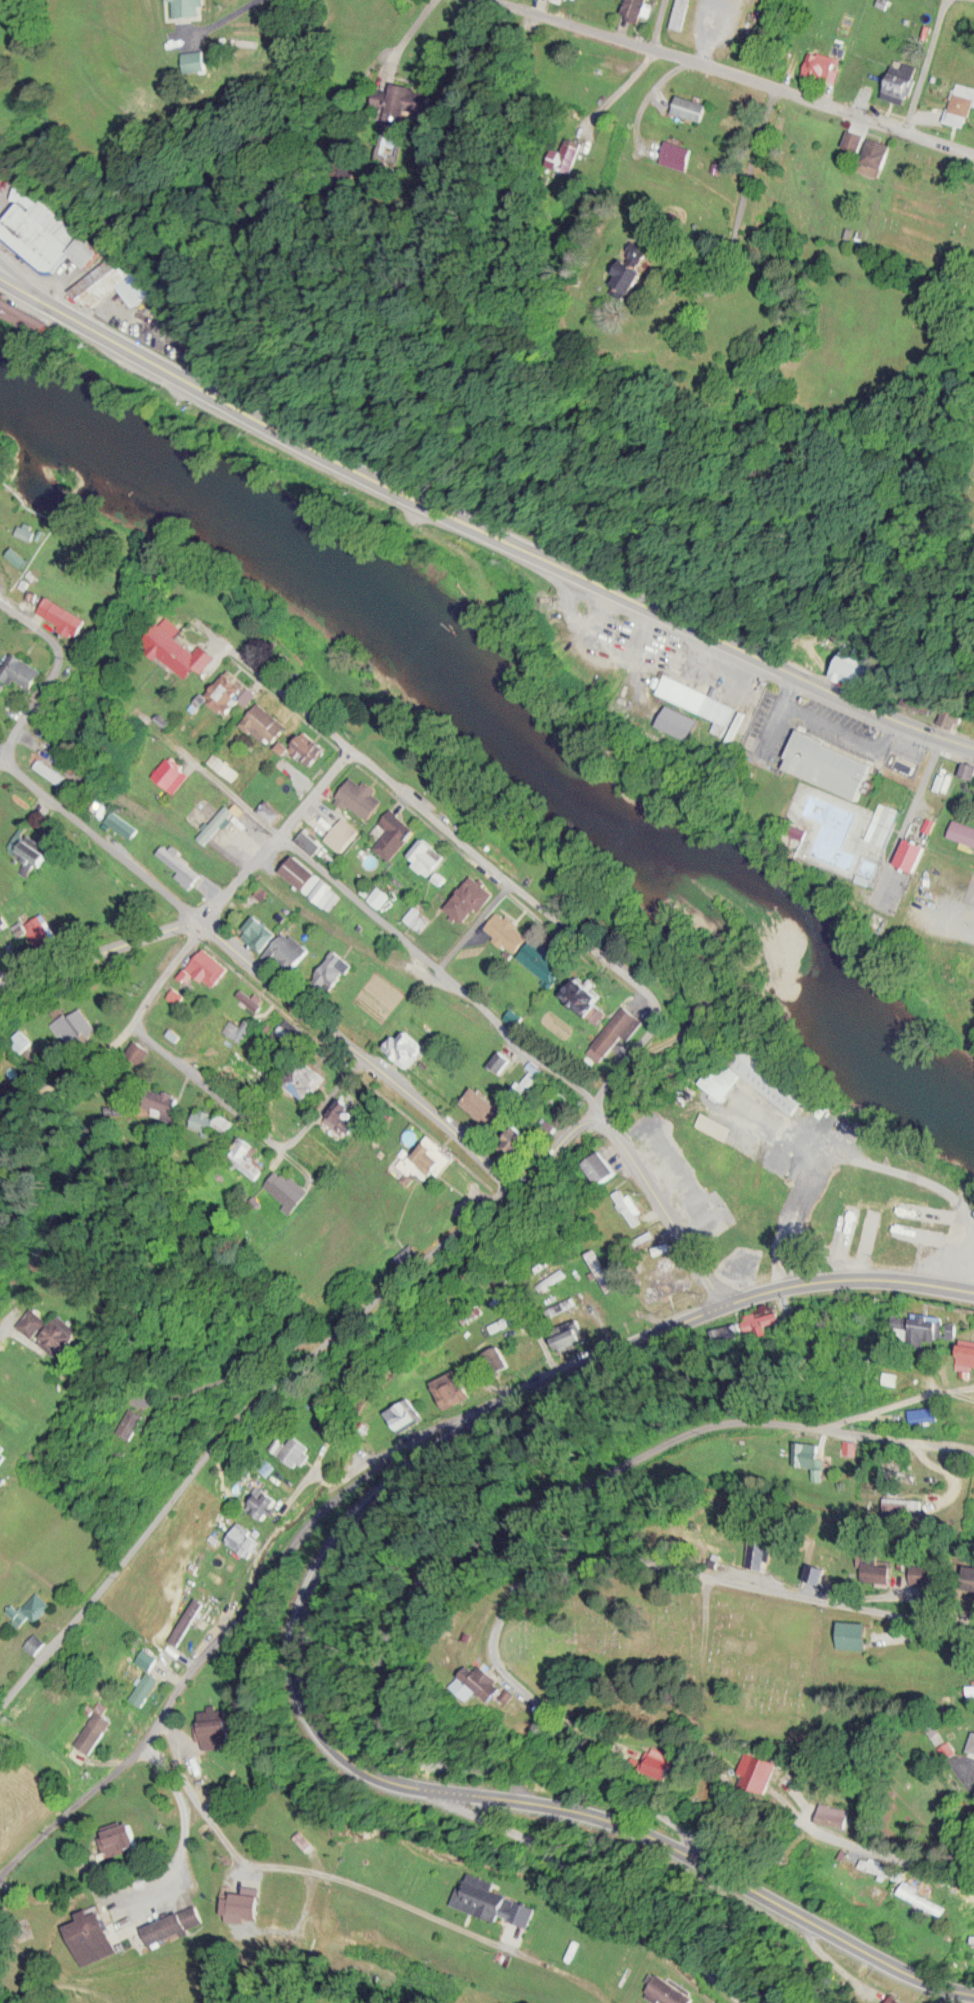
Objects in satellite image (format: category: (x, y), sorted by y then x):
building: (188, 7)
building: (635, 9)
building: (683, 14)
road: (659, 21)
building: (199, 60)
building: (827, 60)
road: (924, 66)
road: (740, 70)
building: (901, 76)
building: (408, 101)
building: (964, 104)
building: (694, 106)
building: (852, 147)
building: (575, 153)
building: (682, 154)
building: (876, 160)
park: (930, 203)
road: (747, 220)
building: (47, 236)
building: (649, 266)
road: (71, 311)
building: (27, 530)
road: (553, 557)
building: (64, 613)
building: (182, 651)
road: (55, 665)
building: (21, 668)
building: (233, 690)
building: (922, 699)
building: (703, 702)
building: (955, 716)
building: (265, 722)
road: (833, 725)
river: (503, 727)
road: (773, 727)
building: (306, 746)
building: (834, 765)
building: (49, 769)
building: (968, 770)
building: (173, 772)
road: (317, 795)
building: (361, 797)
building: (271, 810)
road: (912, 817)
building: (122, 823)
building: (883, 823)
building: (962, 830)
road: (440, 831)
building: (395, 832)
building: (310, 841)
building: (31, 853)
building: (916, 853)
building: (427, 855)
building: (181, 862)
road: (243, 880)
building: (313, 881)
parking lot: (948, 893)
building: (471, 897)
road: (945, 924)
building: (509, 929)
building: (259, 931)
building: (41, 932)
building: (288, 951)
building: (542, 957)
road: (99, 964)
building: (209, 965)
building: (333, 967)
road: (251, 969)
building: (972, 974)
building: (588, 994)
road: (469, 995)
building: (617, 1031)
building: (71, 1033)
building: (406, 1046)
building: (137, 1050)
road: (102, 1055)
building: (247, 1067)
building: (531, 1073)
road: (180, 1075)
building: (305, 1079)
building: (778, 1086)
building: (163, 1100)
building: (483, 1104)
building: (347, 1116)
building: (213, 1122)
building: (248, 1157)
building: (431, 1158)
building: (605, 1165)
building: (288, 1187)
building: (916, 1207)
road: (683, 1237)
building: (660, 1247)
building: (598, 1264)
road: (847, 1275)
building: (666, 1280)
building: (58, 1329)
building: (568, 1329)
road: (4, 1336)
road: (317, 1345)
building: (969, 1350)
building: (496, 1357)
road: (587, 1361)
building: (449, 1386)
road: (898, 1400)
building: (404, 1413)
building: (135, 1421)
building: (328, 1425)
building: (294, 1448)
building: (4, 1450)
building: (808, 1453)
road: (645, 1463)
building: (262, 1499)
building: (243, 1537)
building: (760, 1552)
building: (879, 1568)
building: (929, 1572)
road: (659, 1574)
building: (202, 1583)
building: (35, 1607)
building: (187, 1628)
building: (854, 1632)
road: (220, 1635)
park: (682, 1654)
building: (151, 1657)
building: (493, 1681)
building: (146, 1687)
building: (214, 1726)
building: (96, 1727)
building: (973, 1749)
road: (451, 1756)
building: (664, 1763)
building: (760, 1771)
road: (964, 1778)
road: (479, 1790)
road: (644, 1799)
building: (836, 1813)
building: (123, 1823)
building: (303, 1839)
road: (902, 1866)
road: (243, 1870)
road: (357, 1884)
road: (135, 1886)
building: (916, 1892)
building: (492, 1898)
building: (241, 1906)
road: (667, 1911)
building: (174, 1923)
building: (92, 1934)
road: (828, 1960)
building: (671, 1990)
building: (900, 2000)

